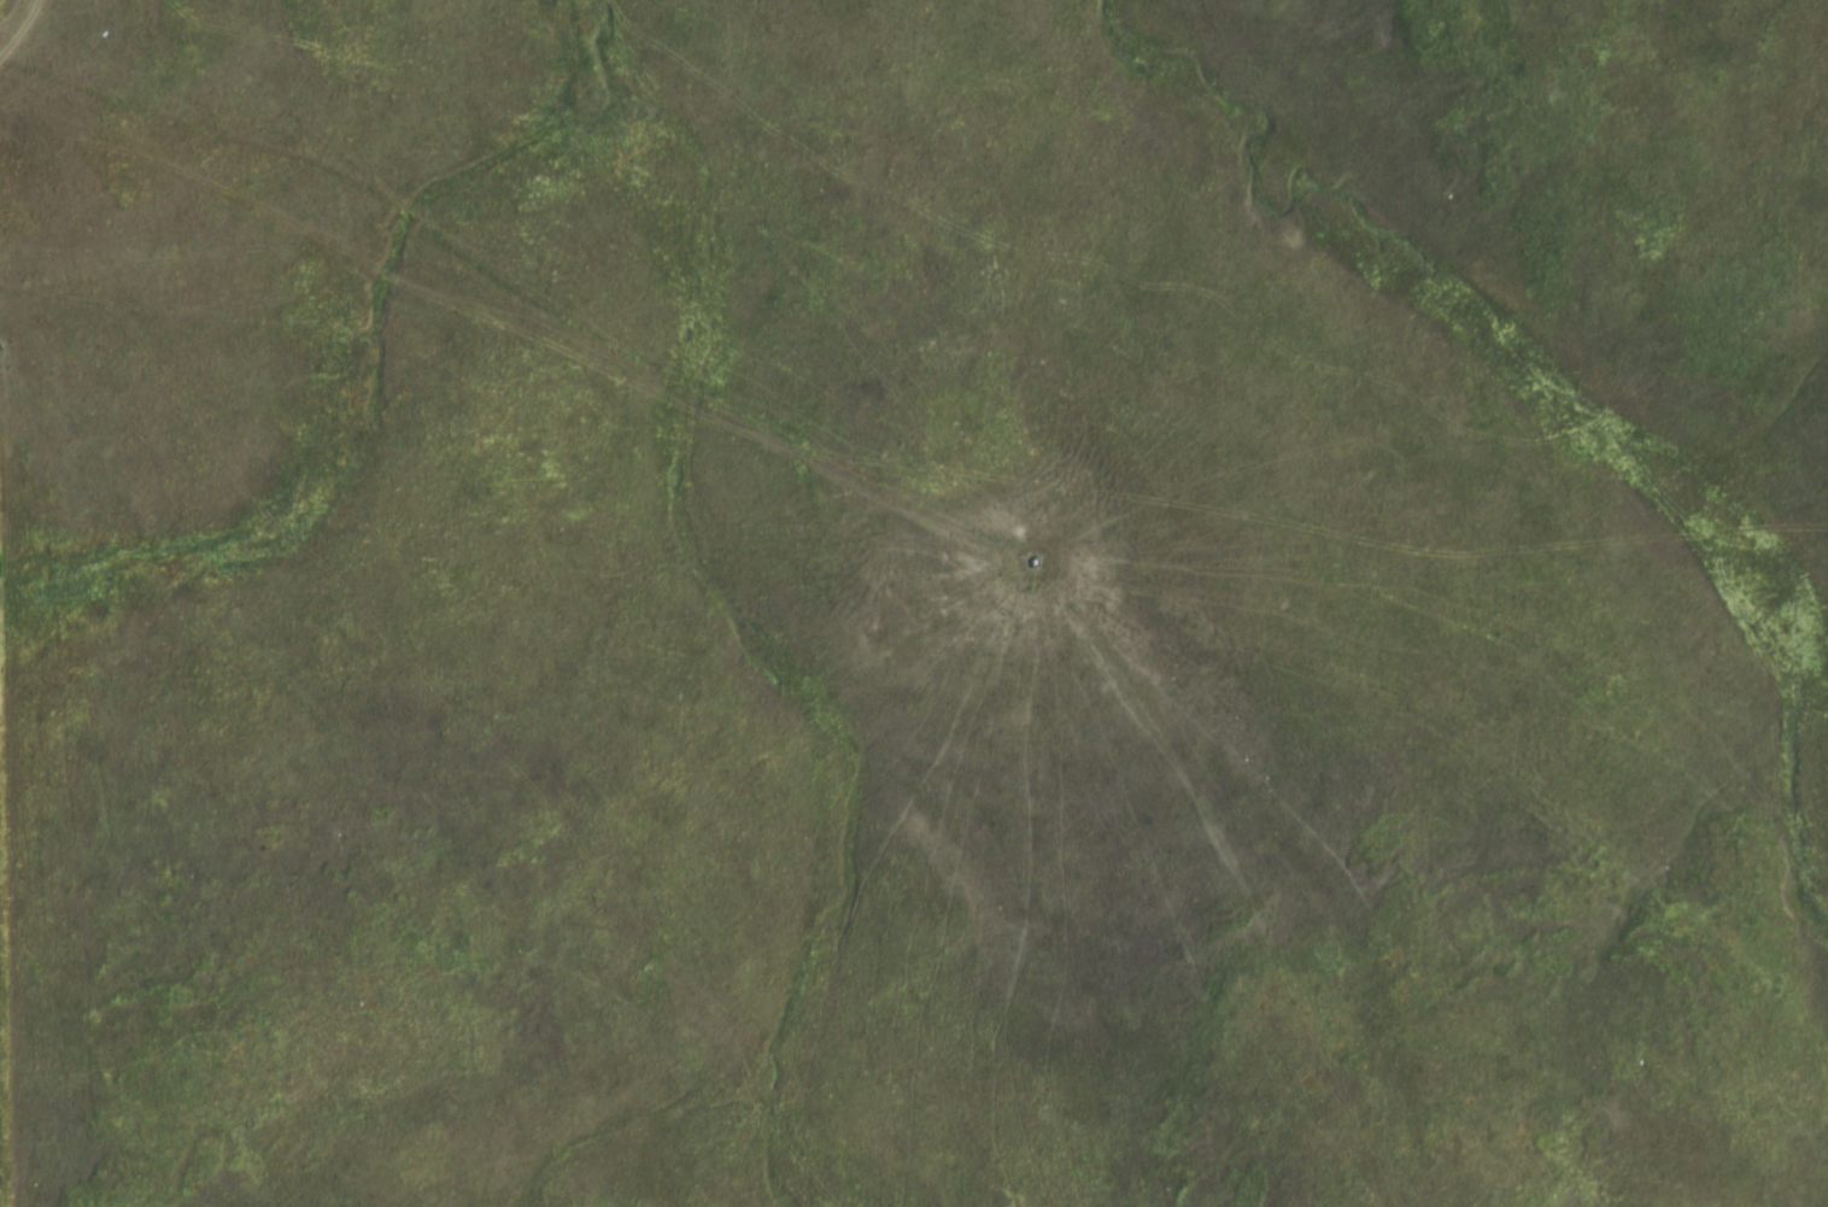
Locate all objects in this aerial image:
road: (8, 799)

